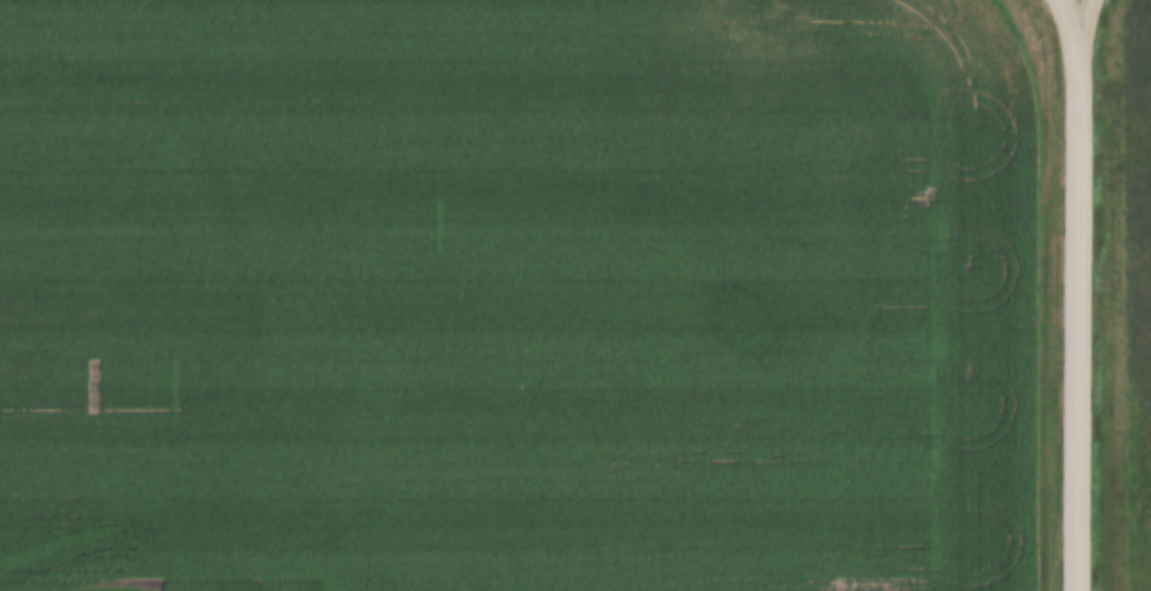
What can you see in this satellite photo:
road: (1087, 24)
road: (1082, 293)

